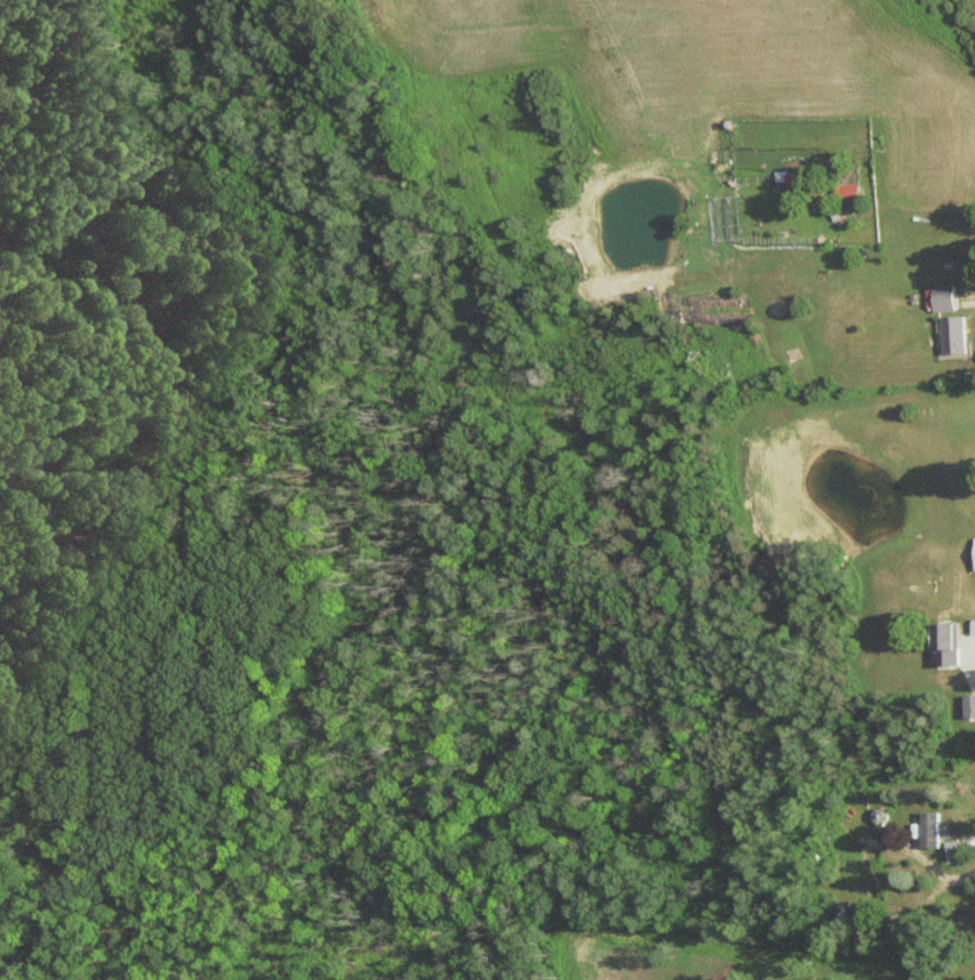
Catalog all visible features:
building: (854, 193)
building: (949, 299)
building: (958, 336)
building: (952, 643)
building: (970, 707)
building: (936, 830)
building: (958, 852)

